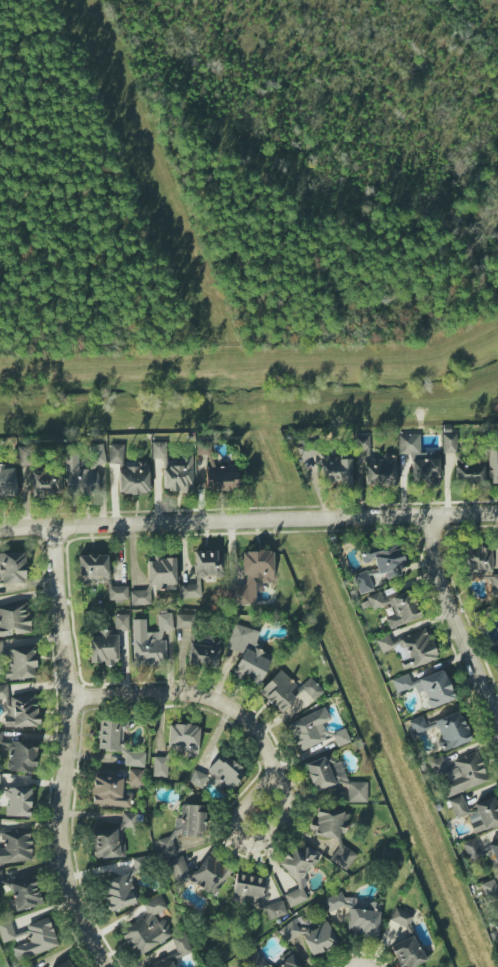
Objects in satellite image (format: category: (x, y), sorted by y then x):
building: (449, 441)
building: (405, 444)
building: (158, 450)
building: (24, 455)
building: (329, 464)
building: (376, 464)
building: (493, 465)
building: (83, 471)
building: (425, 471)
building: (129, 472)
building: (468, 472)
building: (178, 475)
building: (221, 478)
building: (7, 481)
building: (45, 484)
road: (248, 520)
building: (384, 558)
building: (476, 560)
building: (12, 568)
building: (203, 571)
building: (100, 574)
building: (253, 576)
building: (156, 580)
building: (363, 582)
building: (494, 585)
building: (395, 607)
road: (456, 616)
building: (14, 619)
building: (183, 621)
building: (121, 622)
building: (150, 641)
building: (412, 646)
building: (103, 647)
building: (204, 652)
building: (247, 654)
building: (496, 656)
building: (18, 662)
building: (427, 687)
building: (311, 689)
building: (279, 691)
building: (19, 709)
road: (497, 709)
building: (445, 729)
building: (315, 731)
building: (183, 738)
building: (118, 741)
road: (262, 747)
road: (71, 750)
building: (21, 755)
building: (159, 767)
building: (225, 772)
building: (325, 773)
building: (459, 773)
building: (135, 777)
building: (197, 779)
building: (109, 791)
building: (357, 792)
building: (17, 801)
building: (458, 807)
building: (485, 814)
building: (128, 820)
building: (192, 821)
building: (329, 822)
building: (107, 844)
building: (16, 846)
building: (166, 848)
building: (471, 849)
building: (494, 850)
building: (343, 857)
building: (298, 872)
building: (200, 874)
building: (1, 877)
building: (122, 887)
building: (247, 890)
building: (489, 890)
building: (337, 903)
building: (274, 910)
building: (401, 917)
building: (364, 921)
building: (147, 929)
building: (312, 936)
building: (29, 938)
building: (181, 945)
building: (409, 953)
building: (253, 961)
building: (289, 963)
building: (66, 964)
building: (163, 964)
building: (32, 966)

